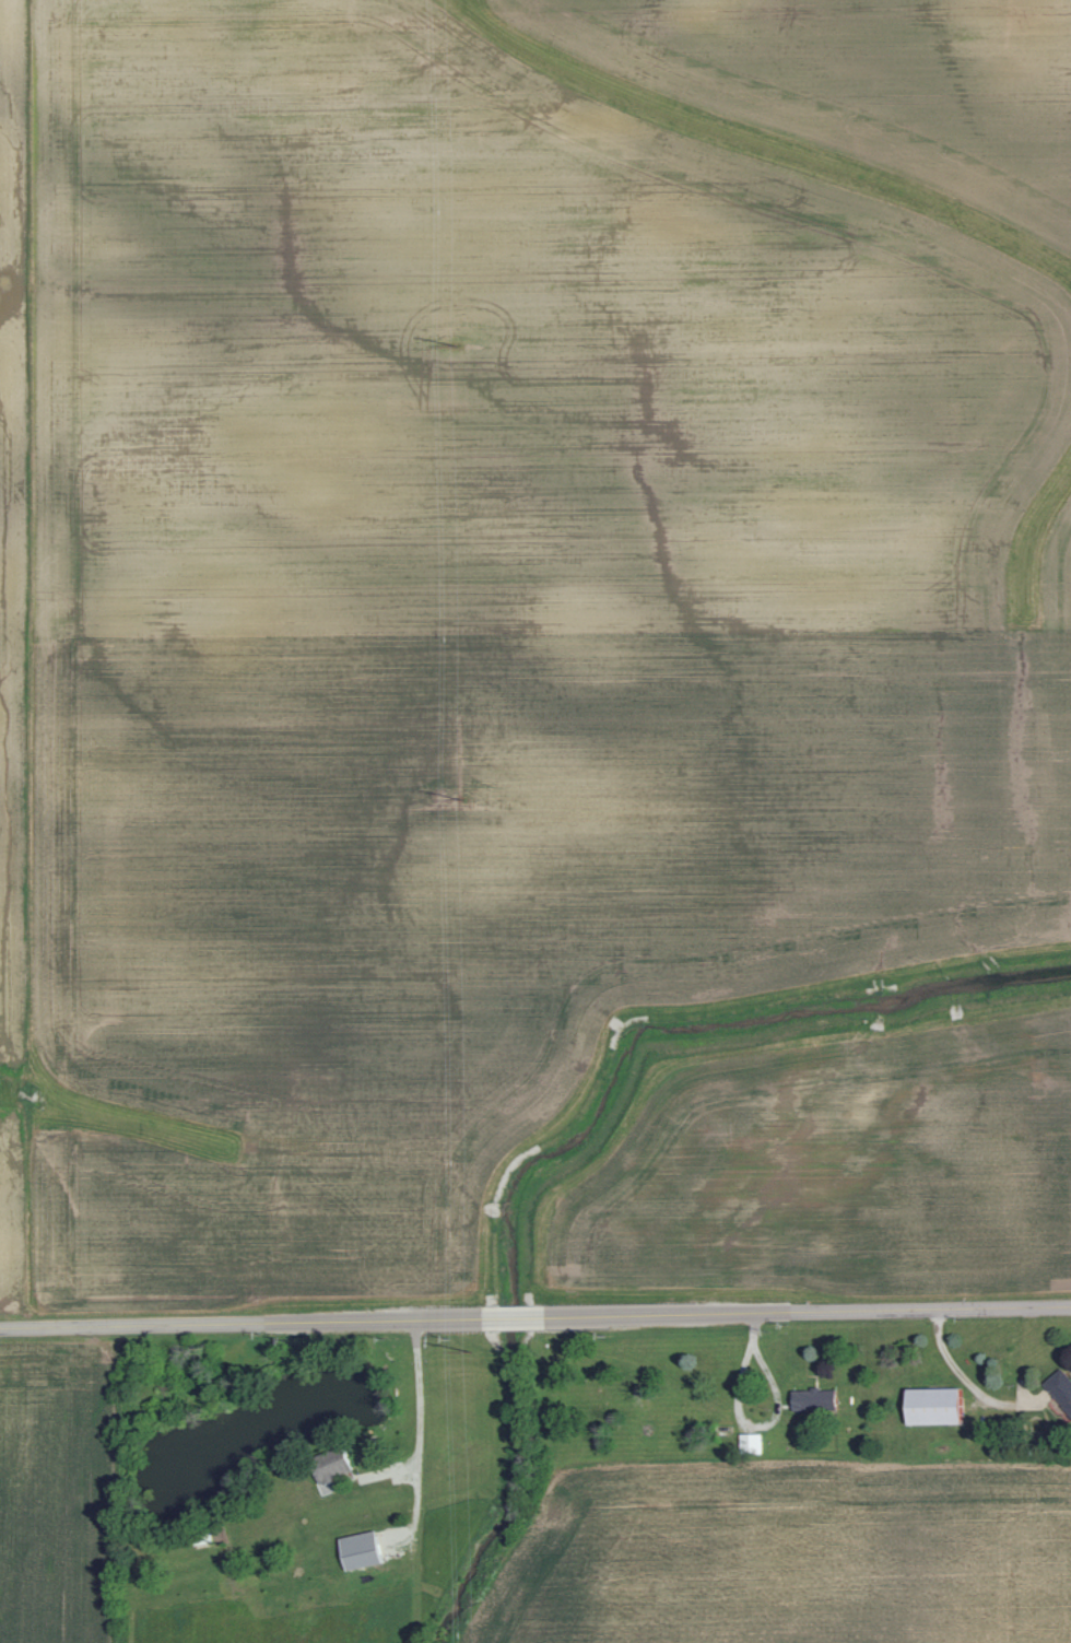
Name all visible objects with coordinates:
power tower: (456, 344)
power tower: (463, 798)
road: (534, 1315)
road: (753, 1327)
power tower: (470, 1349)
road: (957, 1366)
building: (1062, 1385)
building: (817, 1398)
building: (937, 1406)
road: (760, 1424)
road: (420, 1434)
building: (753, 1442)
building: (333, 1464)
road: (409, 1467)
crop: (59, 1492)
building: (364, 1549)
crop: (780, 1552)

